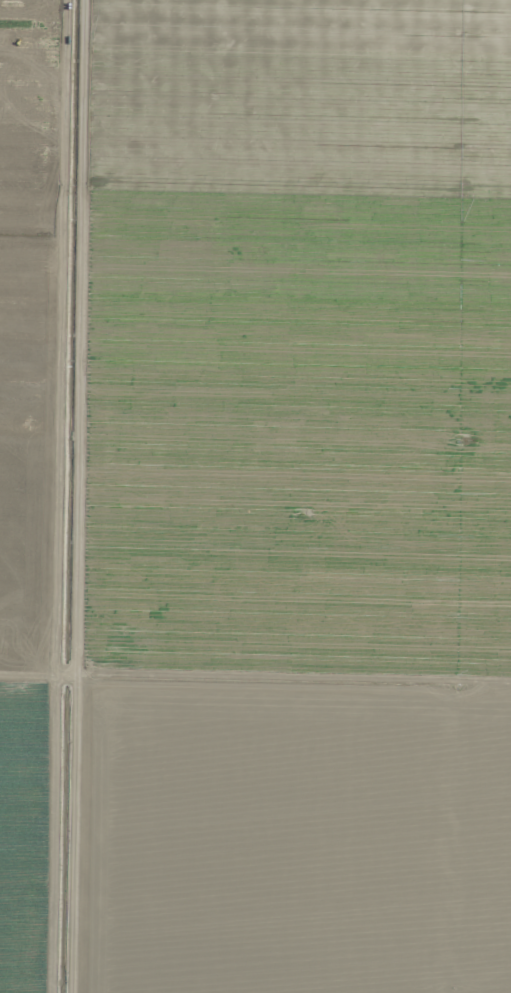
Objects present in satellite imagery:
crop: (255, 496)

